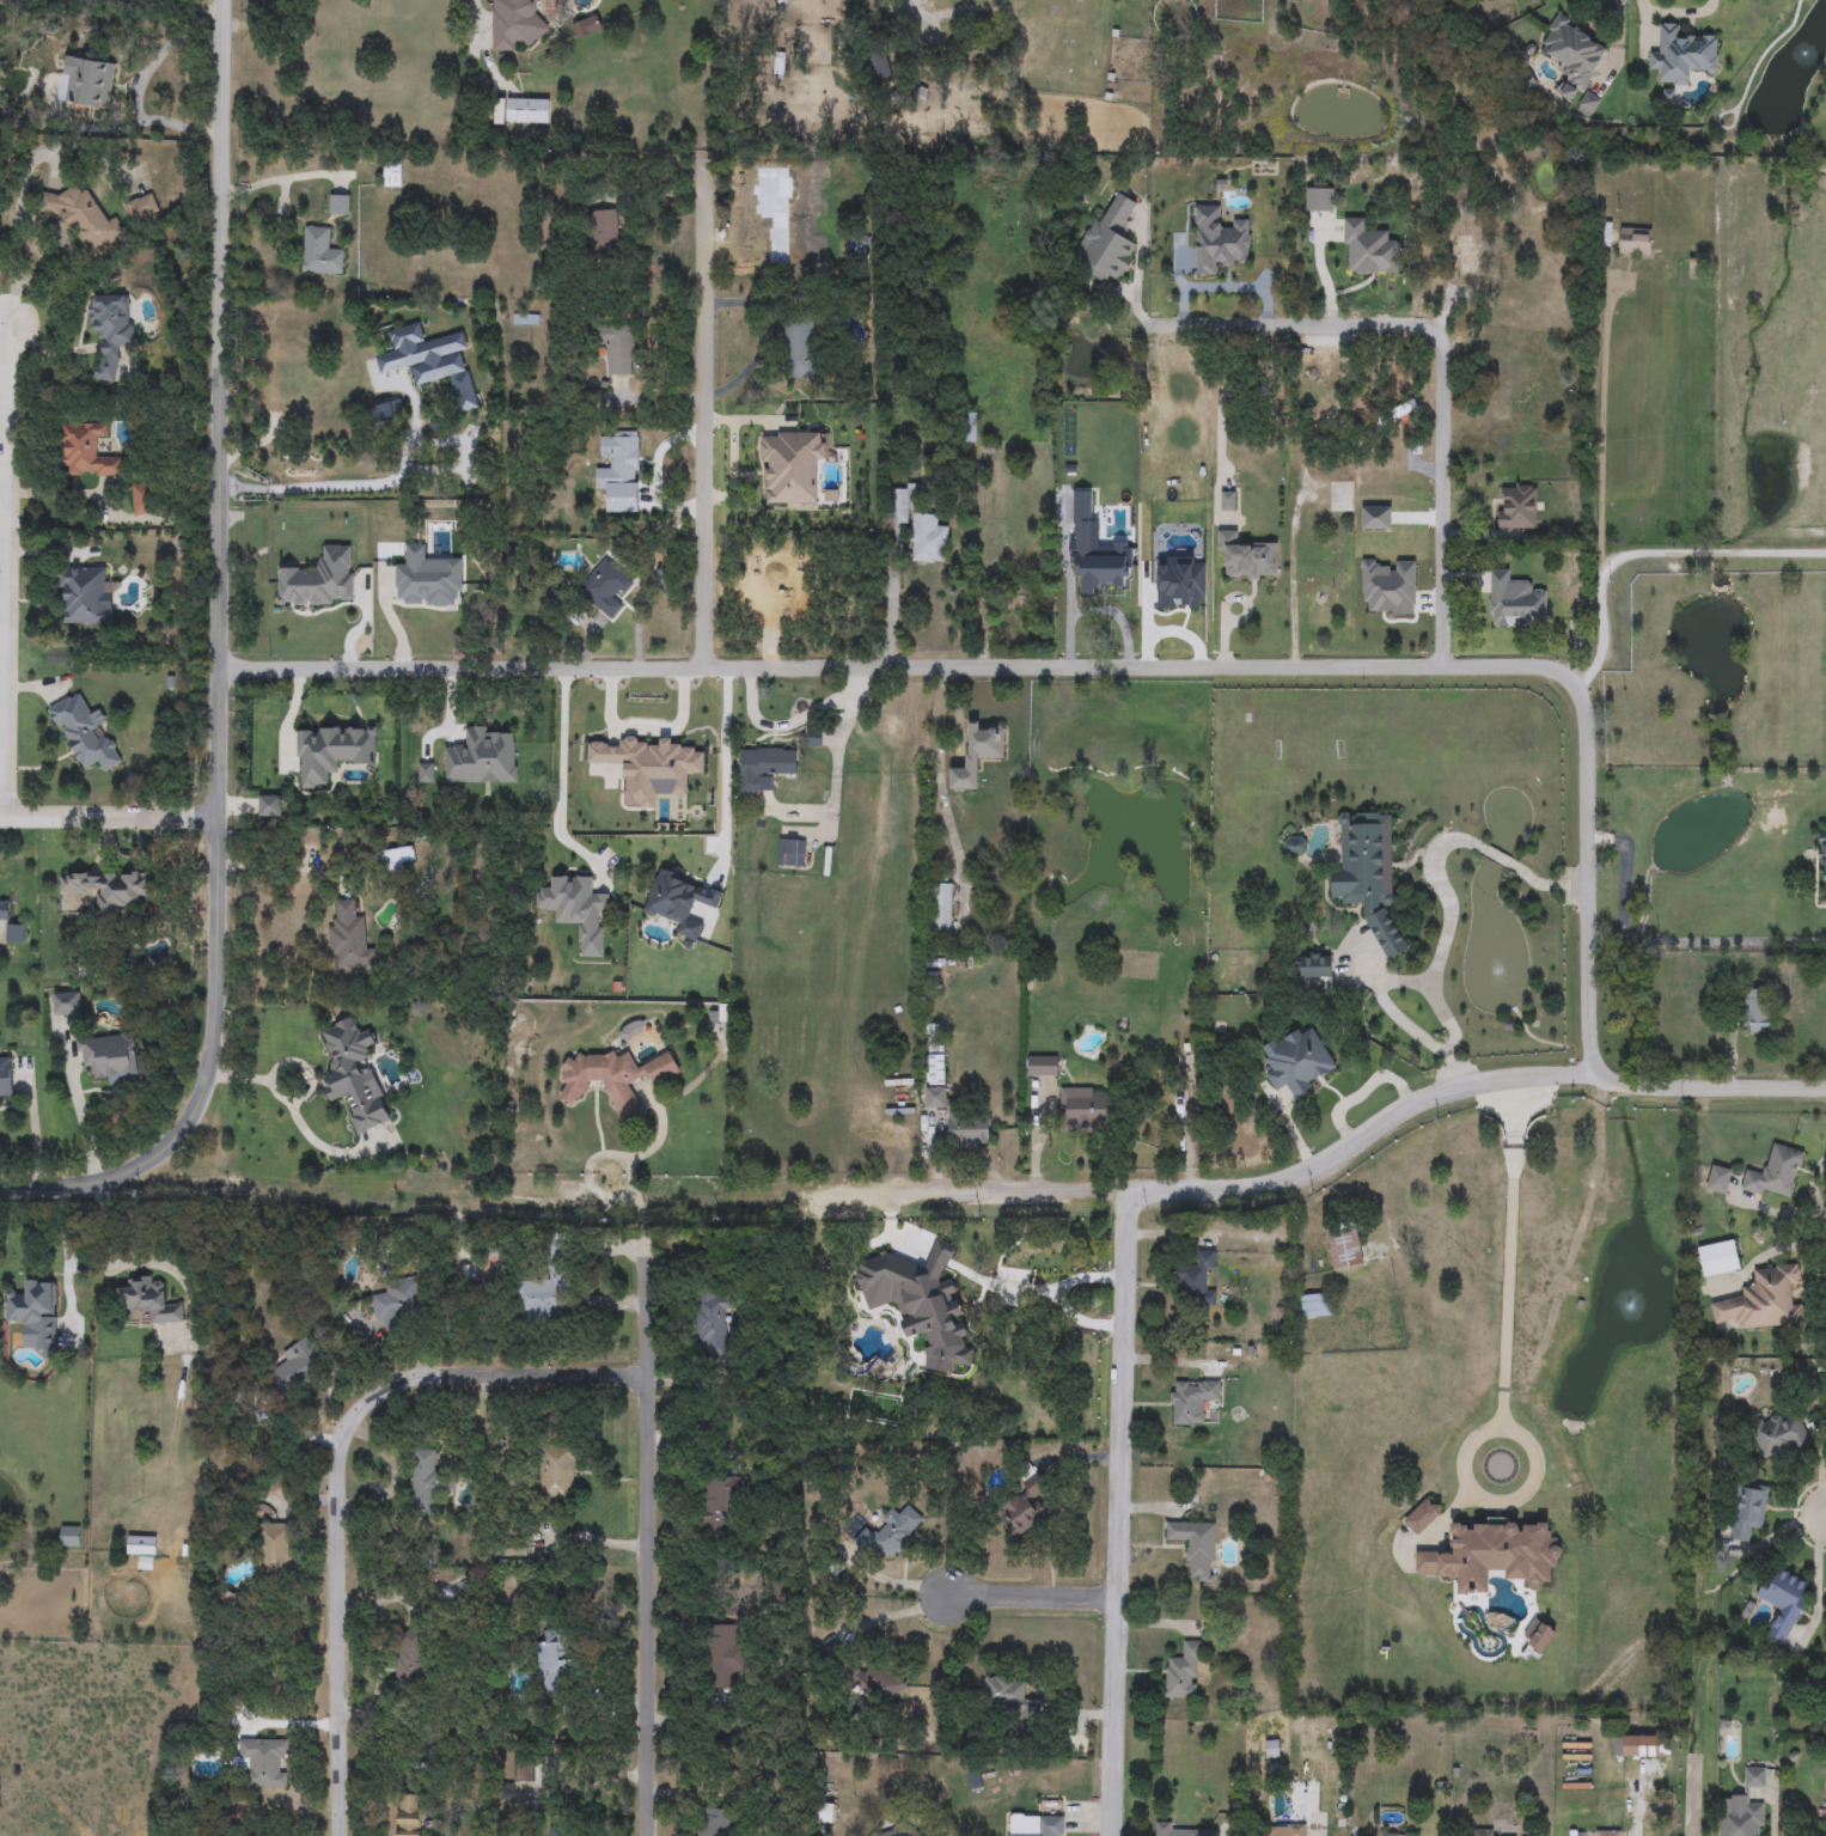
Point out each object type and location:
road: (111, 1)
road: (476, 8)
road: (918, 18)
building: (515, 23)
building: (1572, 55)
building: (1681, 55)
building: (86, 81)
road: (134, 91)
building: (521, 111)
building: (392, 173)
road: (276, 178)
building: (338, 205)
building: (142, 207)
building: (84, 216)
road: (38, 221)
building: (604, 232)
building: (856, 234)
building: (1109, 240)
building: (1217, 242)
building: (1635, 242)
building: (1378, 244)
building: (319, 251)
road: (1230, 291)
building: (111, 334)
building: (617, 347)
building: (799, 349)
road: (1443, 354)
building: (430, 361)
building: (1308, 371)
building: (389, 411)
road: (703, 420)
building: (967, 428)
road: (1596, 429)
building: (86, 451)
building: (622, 458)
road: (362, 486)
building: (1342, 496)
building: (141, 499)
building: (1228, 501)
building: (1516, 507)
building: (917, 526)
road: (1779, 550)
road: (1722, 551)
road: (1663, 553)
building: (1247, 557)
road: (6, 572)
building: (1095, 578)
building: (427, 579)
building: (319, 580)
building: (604, 586)
building: (1186, 592)
building: (84, 596)
building: (555, 598)
building: (1022, 598)
building: (1514, 603)
building: (1321, 609)
road: (1601, 627)
road: (219, 666)
road: (1098, 667)
building: (1643, 716)
road: (656, 732)
building: (84, 734)
building: (613, 750)
building: (330, 751)
building: (977, 754)
building: (482, 757)
building: (768, 763)
building: (656, 764)
building: (426, 771)
road: (837, 774)
road: (734, 776)
road: (560, 780)
building: (269, 806)
road: (108, 817)
building: (1295, 846)
building: (573, 848)
building: (790, 853)
road: (1496, 856)
building: (395, 860)
building: (1824, 871)
road: (286, 872)
building: (1368, 874)
road: (1545, 886)
building: (111, 889)
building: (4, 909)
building: (940, 910)
building: (14, 933)
building: (349, 938)
road: (1657, 943)
road: (1440, 947)
building: (1315, 965)
building: (67, 1004)
building: (1757, 1011)
building: (112, 1057)
building: (1297, 1061)
building: (1044, 1066)
building: (354, 1075)
building: (6, 1078)
building: (613, 1079)
building: (936, 1079)
road: (1710, 1088)
building: (1086, 1108)
road: (295, 1122)
building: (969, 1129)
road: (1033, 1145)
road: (628, 1172)
building: (1775, 1173)
building: (1718, 1179)
road: (1274, 1181)
road: (1810, 1188)
building: (1345, 1249)
building: (1442, 1249)
building: (1720, 1257)
road: (140, 1267)
road: (1504, 1270)
road: (1568, 1270)
building: (1195, 1281)
building: (546, 1288)
building: (897, 1291)
building: (1763, 1300)
building: (149, 1301)
building: (398, 1304)
building: (1315, 1305)
building: (33, 1312)
building: (712, 1322)
building: (878, 1323)
building: (294, 1368)
building: (1192, 1401)
building: (1779, 1434)
road: (338, 1470)
building: (556, 1472)
building: (425, 1481)
building: (1203, 1492)
building: (716, 1507)
building: (1026, 1508)
building: (1747, 1509)
road: (1118, 1513)
building: (71, 1537)
building: (886, 1537)
building: (1196, 1547)
building: (275, 1549)
road: (645, 1549)
building: (142, 1550)
road: (1031, 1596)
building: (1784, 1603)
building: (721, 1657)
building: (409, 1658)
building: (555, 1659)
building: (1183, 1673)
building: (867, 1681)
building: (1008, 1698)
building: (1824, 1706)
building: (262, 1762)
building: (1754, 1777)
building: (1825, 1783)
building: (409, 1816)
building: (1740, 1816)
building: (716, 1823)
building: (1034, 1825)
building: (1164, 1826)
building: (902, 1830)
building: (560, 1831)
building: (1285, 1831)
building: (878, 1832)
building: (1488, 1832)
building: (1607, 1832)
building: (1391, 1835)

